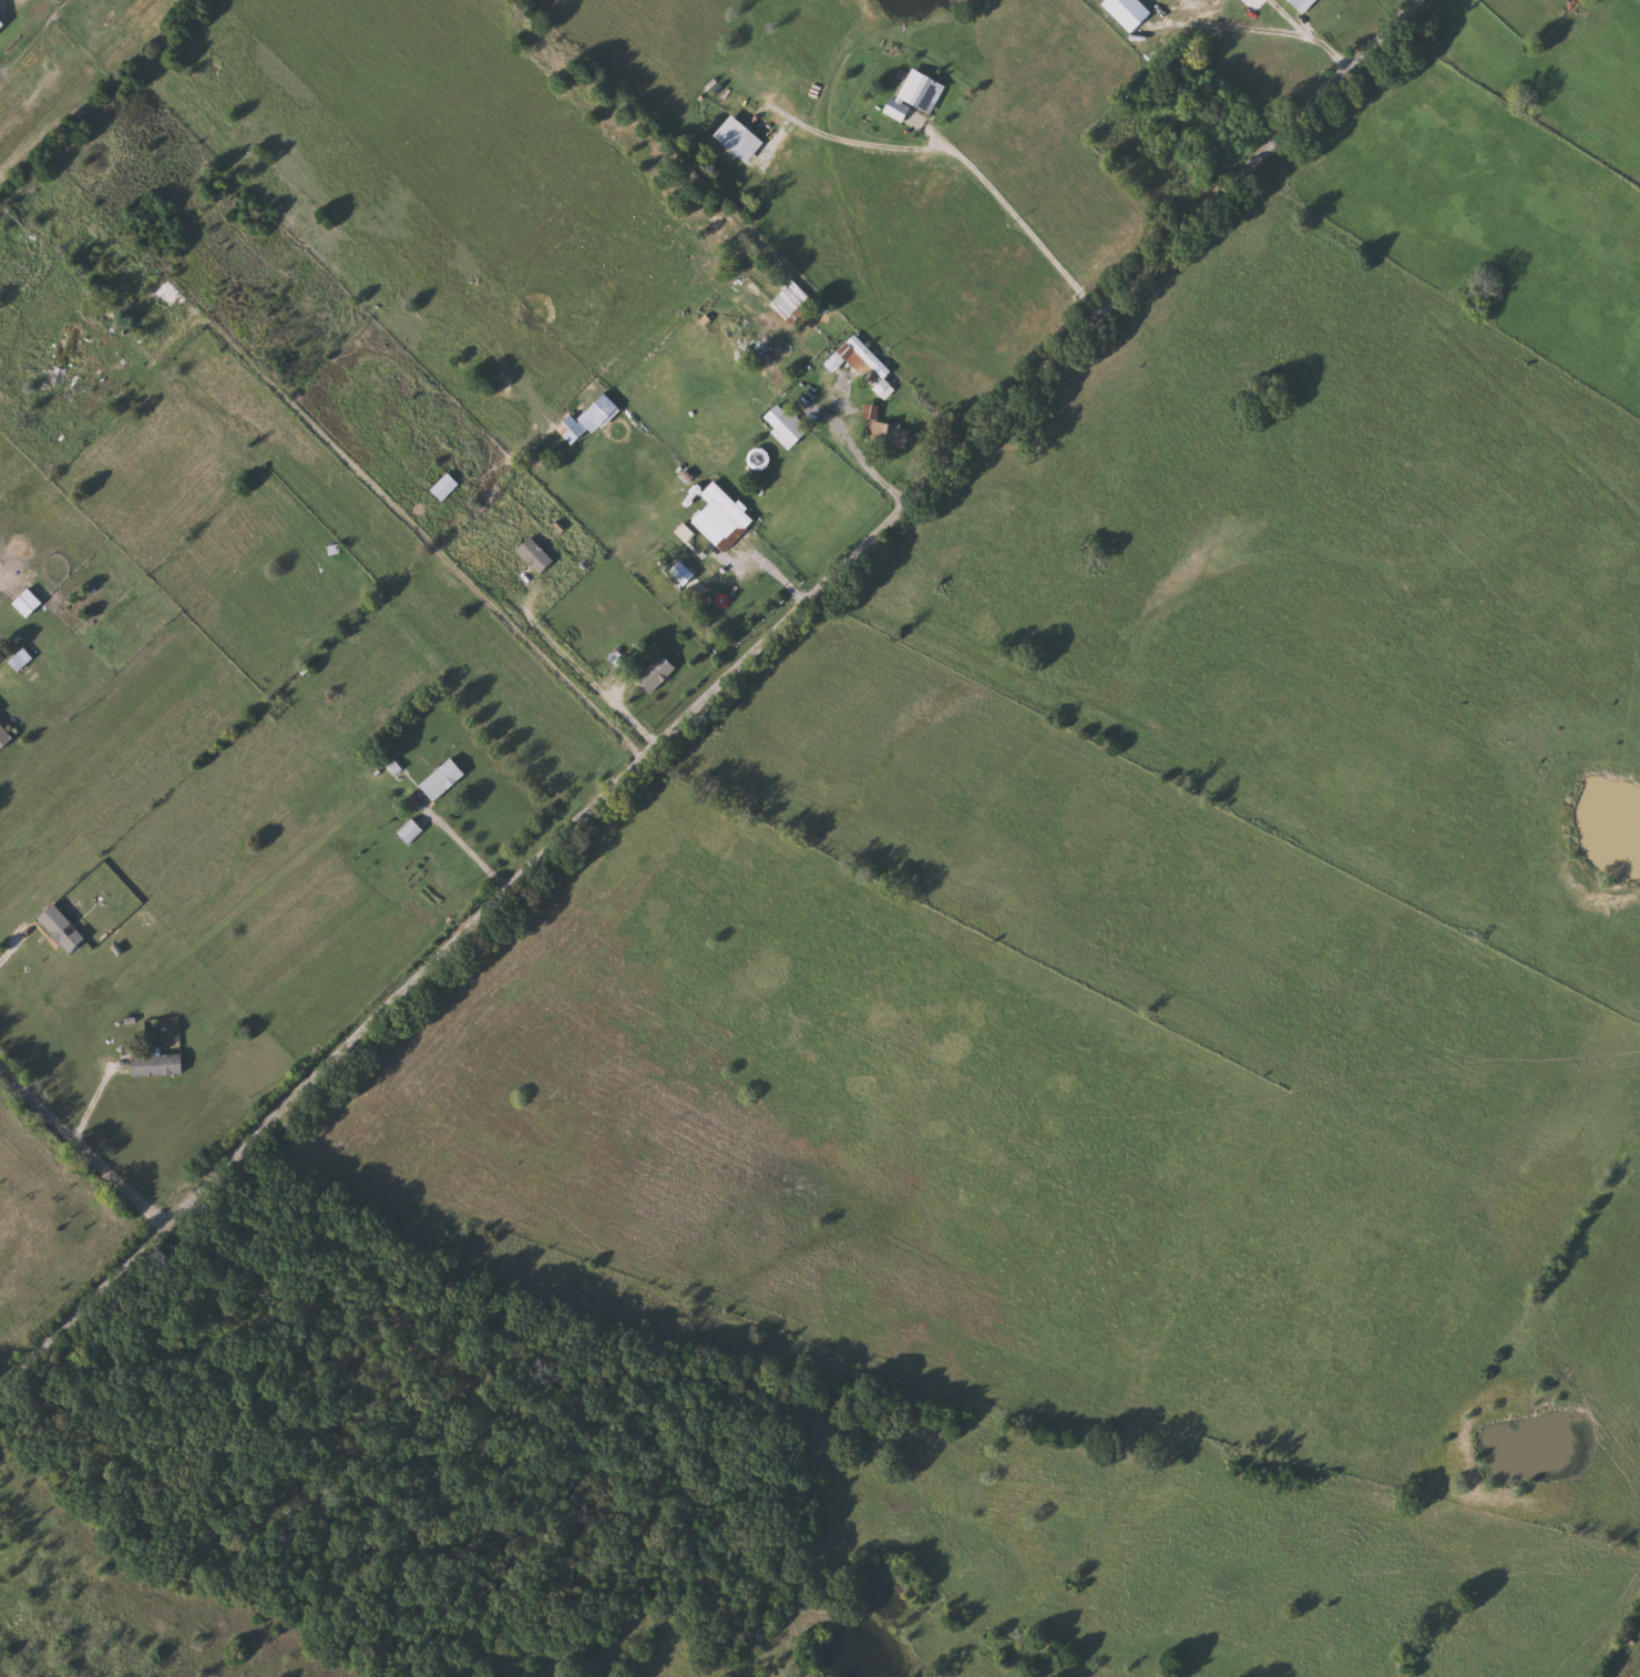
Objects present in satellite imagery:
road: (1269, 27)
building: (916, 93)
building: (1147, 98)
building: (739, 136)
road: (1025, 224)
building: (164, 296)
building: (69, 344)
building: (53, 372)
building: (851, 382)
building: (791, 387)
building: (783, 421)
building: (575, 432)
building: (758, 458)
road: (863, 461)
building: (444, 485)
road: (391, 504)
building: (720, 518)
building: (533, 552)
building: (29, 602)
building: (656, 672)
road: (599, 688)
road: (710, 692)
building: (4, 735)
building: (442, 778)
building: (411, 830)
road: (461, 837)
road: (14, 950)
building: (157, 1064)
road: (96, 1096)
road: (82, 1141)

